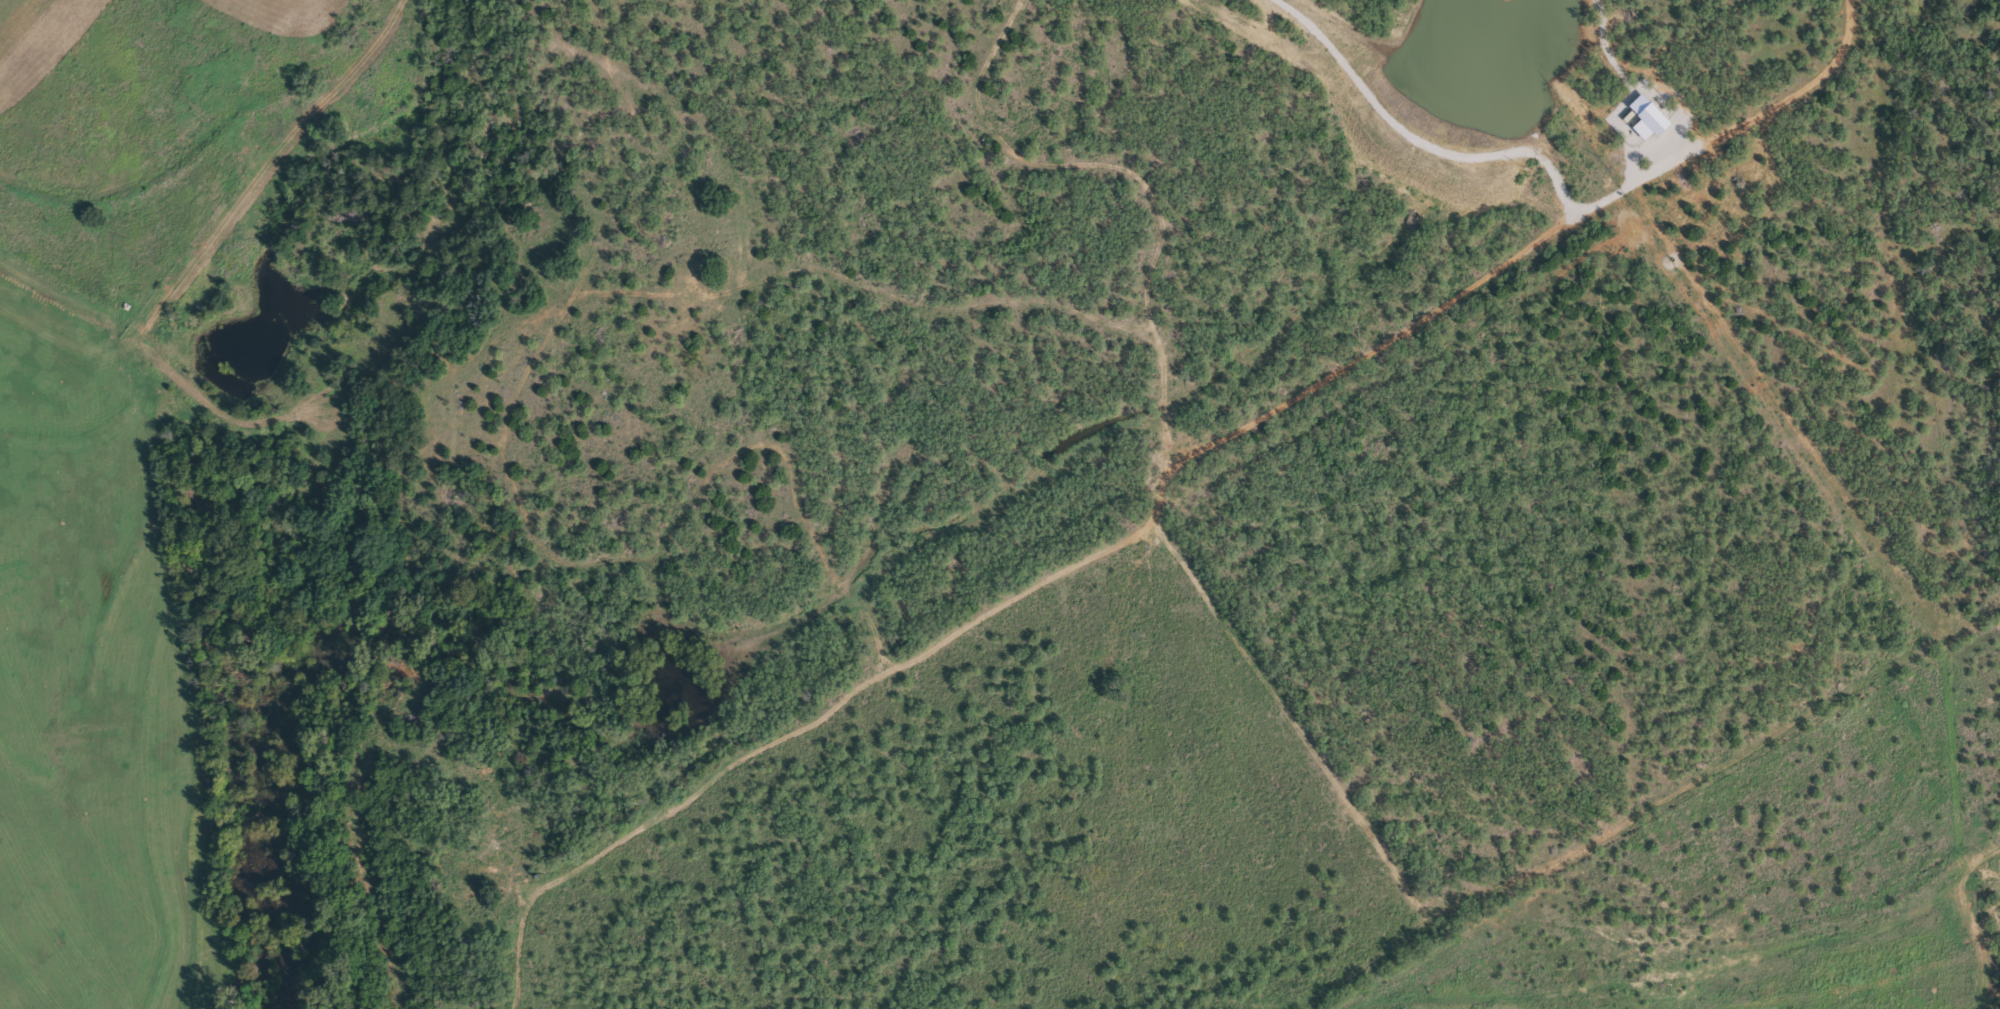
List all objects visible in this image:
road: (1700, 988)

